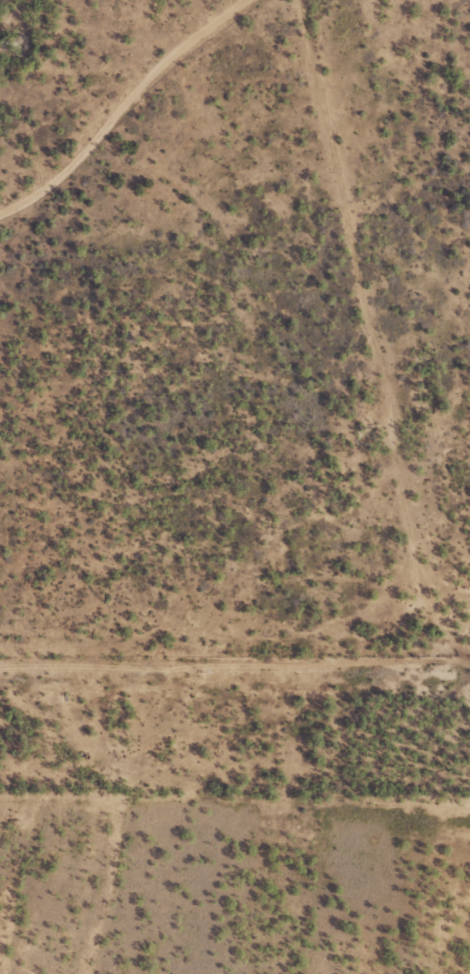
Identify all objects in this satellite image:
road: (147, 106)
road: (312, 178)
road: (353, 359)

